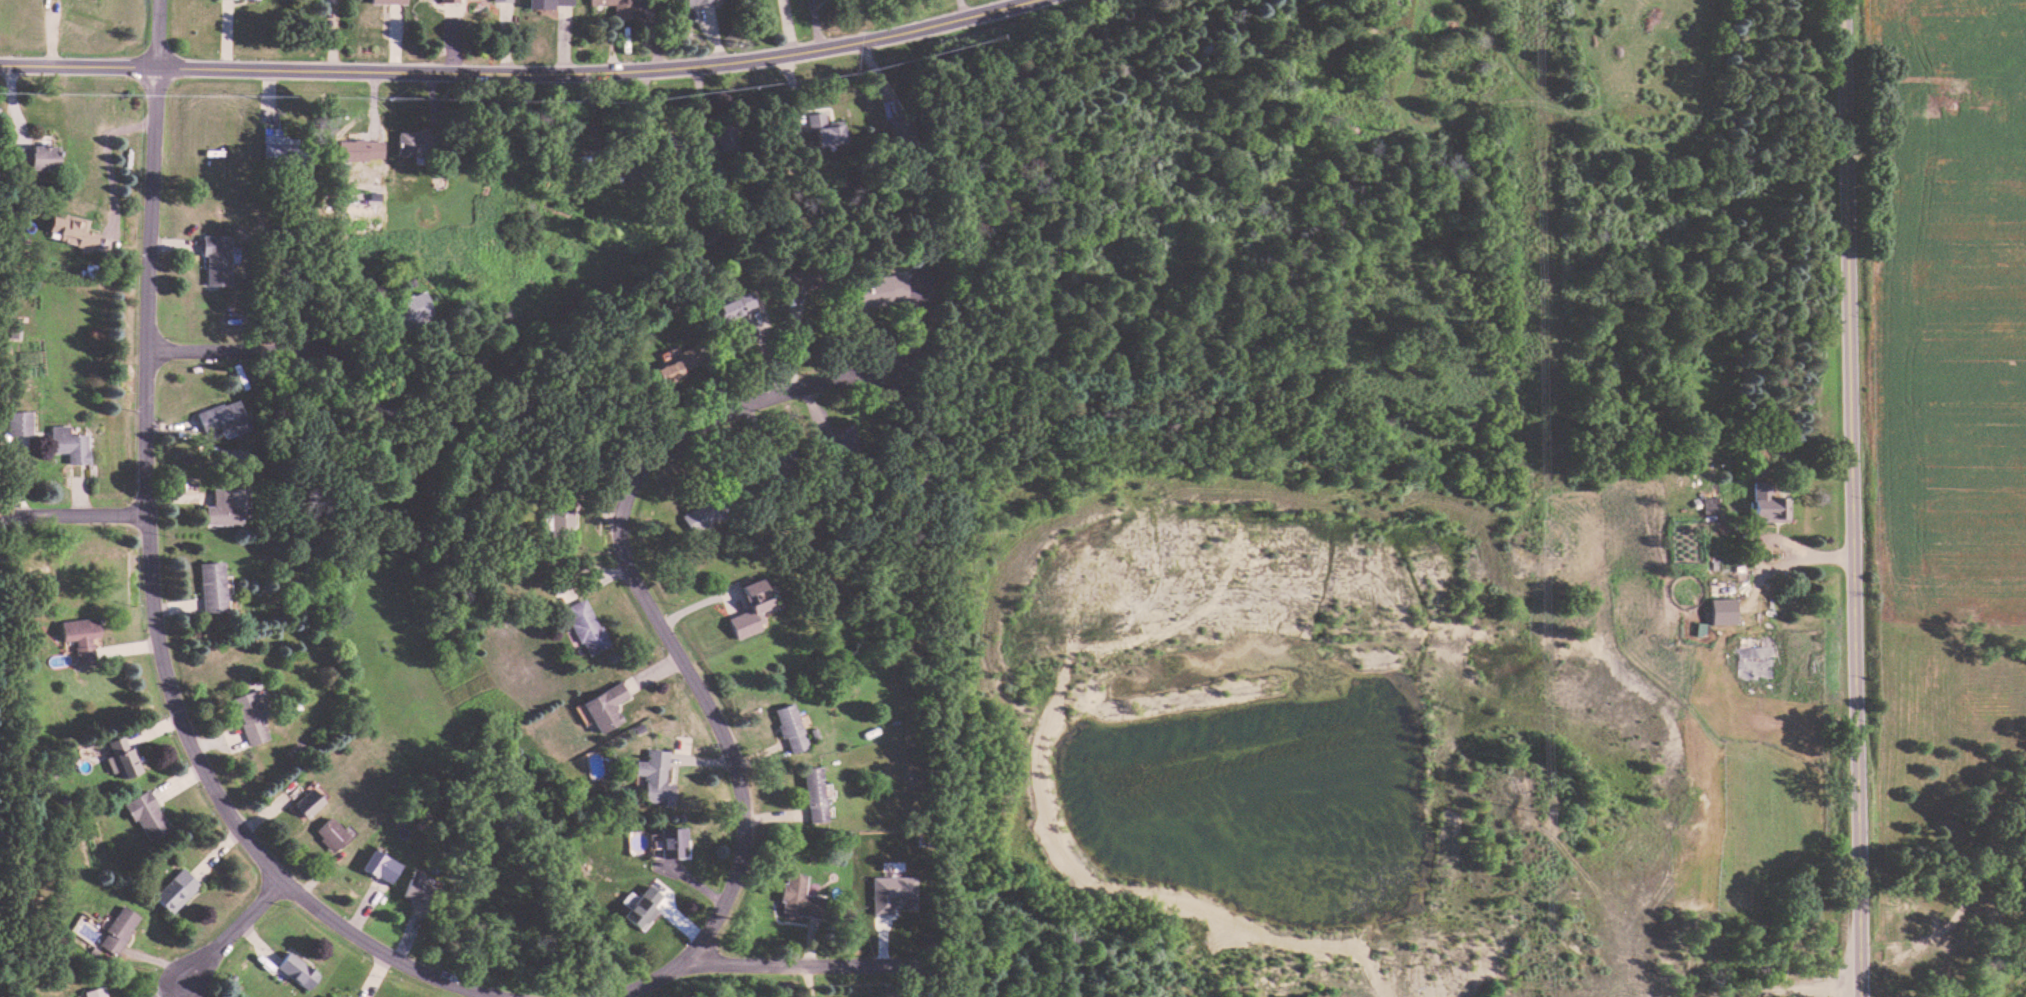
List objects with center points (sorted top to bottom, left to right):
building: (500, 0)
building: (447, 1)
building: (695, 1)
building: (387, 2)
building: (549, 3)
building: (616, 7)
road: (961, 9)
road: (158, 33)
road: (515, 70)
building: (1929, 105)
building: (1975, 123)
building: (900, 133)
building: (725, 138)
building: (413, 145)
building: (359, 152)
building: (282, 153)
building: (35, 158)
road: (105, 163)
building: (72, 231)
building: (215, 260)
building: (798, 279)
building: (878, 295)
building: (735, 305)
building: (413, 307)
road: (254, 347)
building: (679, 366)
building: (221, 418)
building: (18, 423)
building: (838, 442)
building: (68, 445)
road: (146, 489)
road: (1847, 498)
building: (1767, 504)
building: (225, 508)
building: (702, 514)
road: (83, 515)
road: (10, 516)
building: (211, 587)
building: (1723, 588)
building: (750, 611)
building: (585, 627)
building: (80, 638)
road: (675, 643)
building: (1759, 645)
building: (606, 707)
building: (250, 717)
building: (789, 729)
building: (120, 757)
building: (654, 778)
building: (813, 795)
building: (307, 803)
building: (145, 817)
building: (329, 835)
building: (672, 843)
building: (380, 866)
building: (418, 891)
building: (174, 892)
building: (798, 900)
building: (641, 909)
building: (116, 931)
road: (225, 938)
road: (391, 954)
road: (804, 962)
building: (296, 972)
road: (1801, 988)
building: (93, 993)

